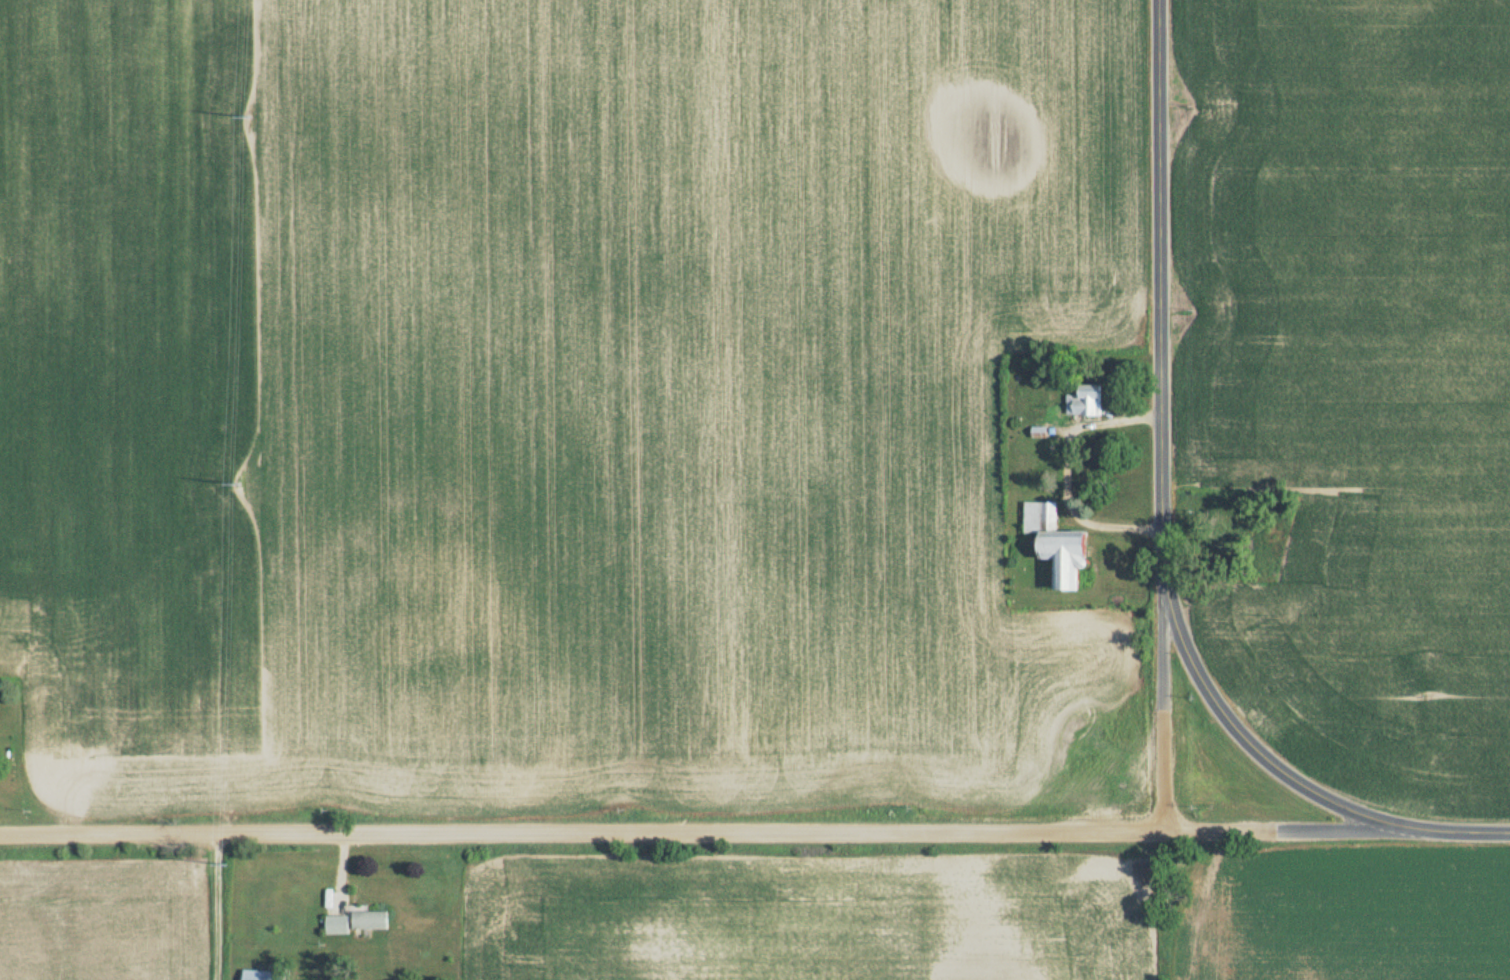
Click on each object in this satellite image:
building: (1088, 403)
road: (1165, 417)
building: (1042, 434)
road: (1060, 471)
building: (1064, 547)
road: (1255, 746)
road: (755, 827)
road: (208, 905)
building: (358, 924)
building: (266, 976)

